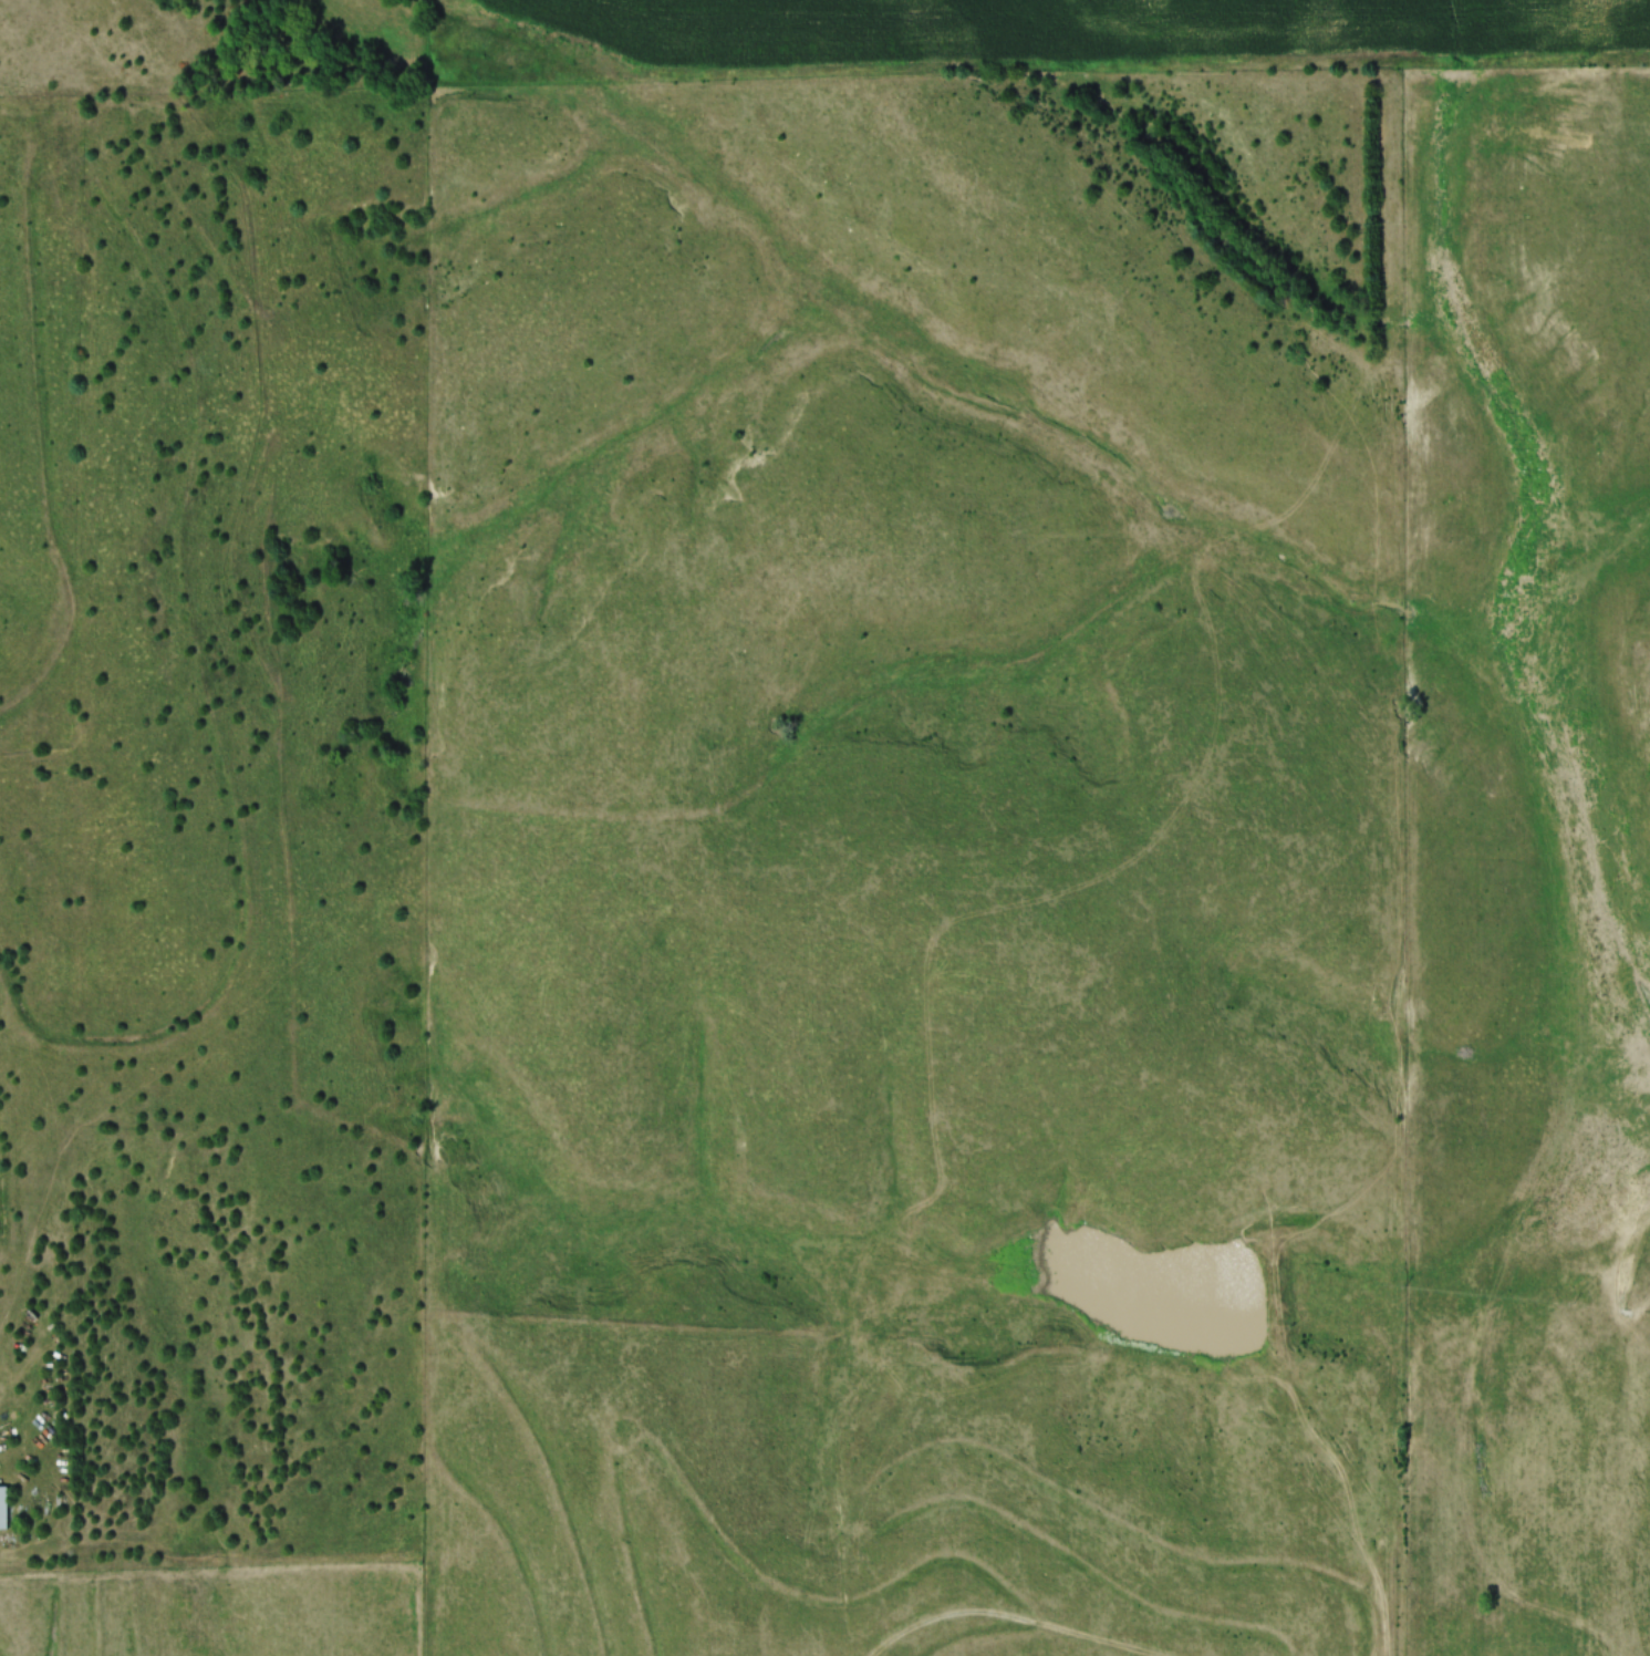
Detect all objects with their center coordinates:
building: (1, 1507)

